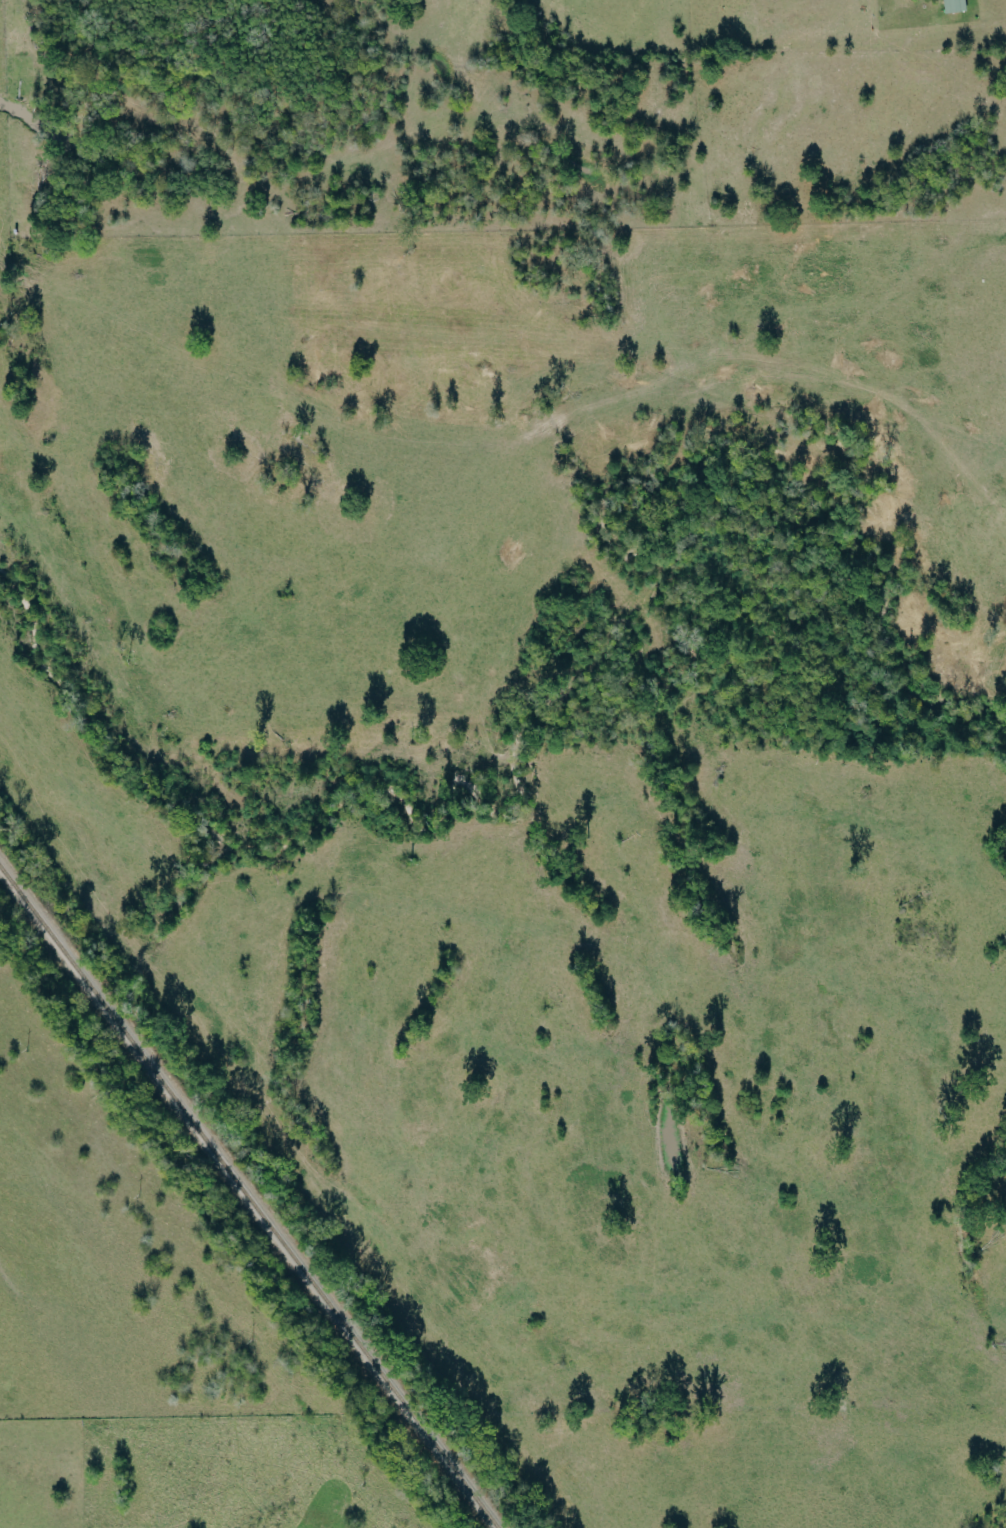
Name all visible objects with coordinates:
building: (955, 6)
railway: (247, 1200)

